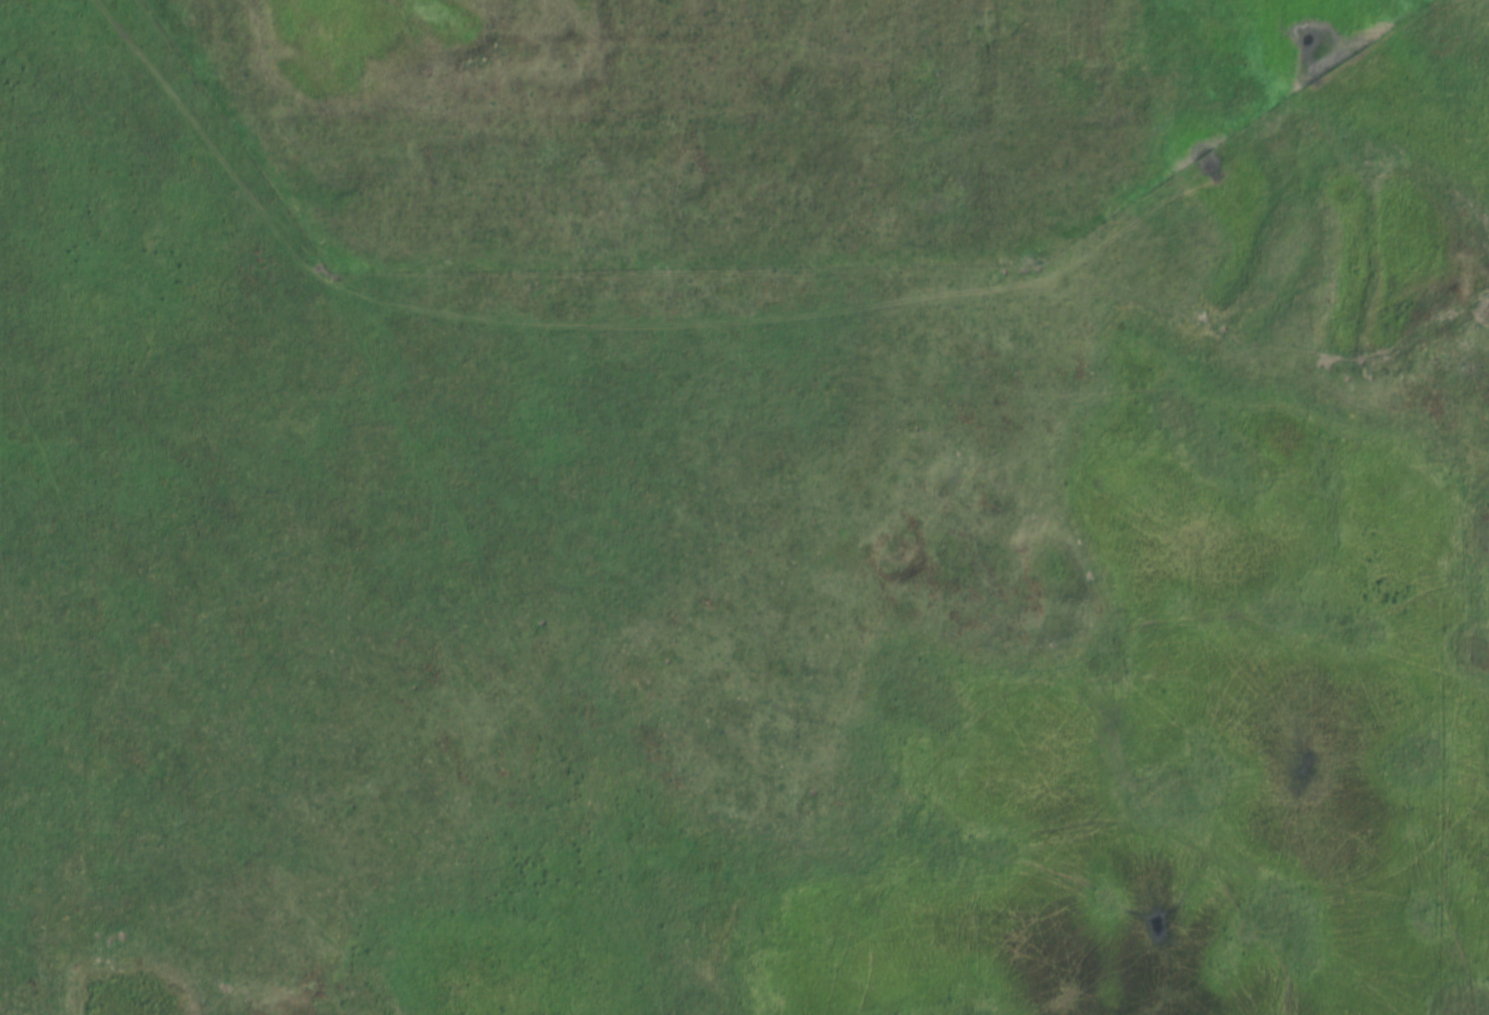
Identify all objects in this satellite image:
road: (756, 315)

